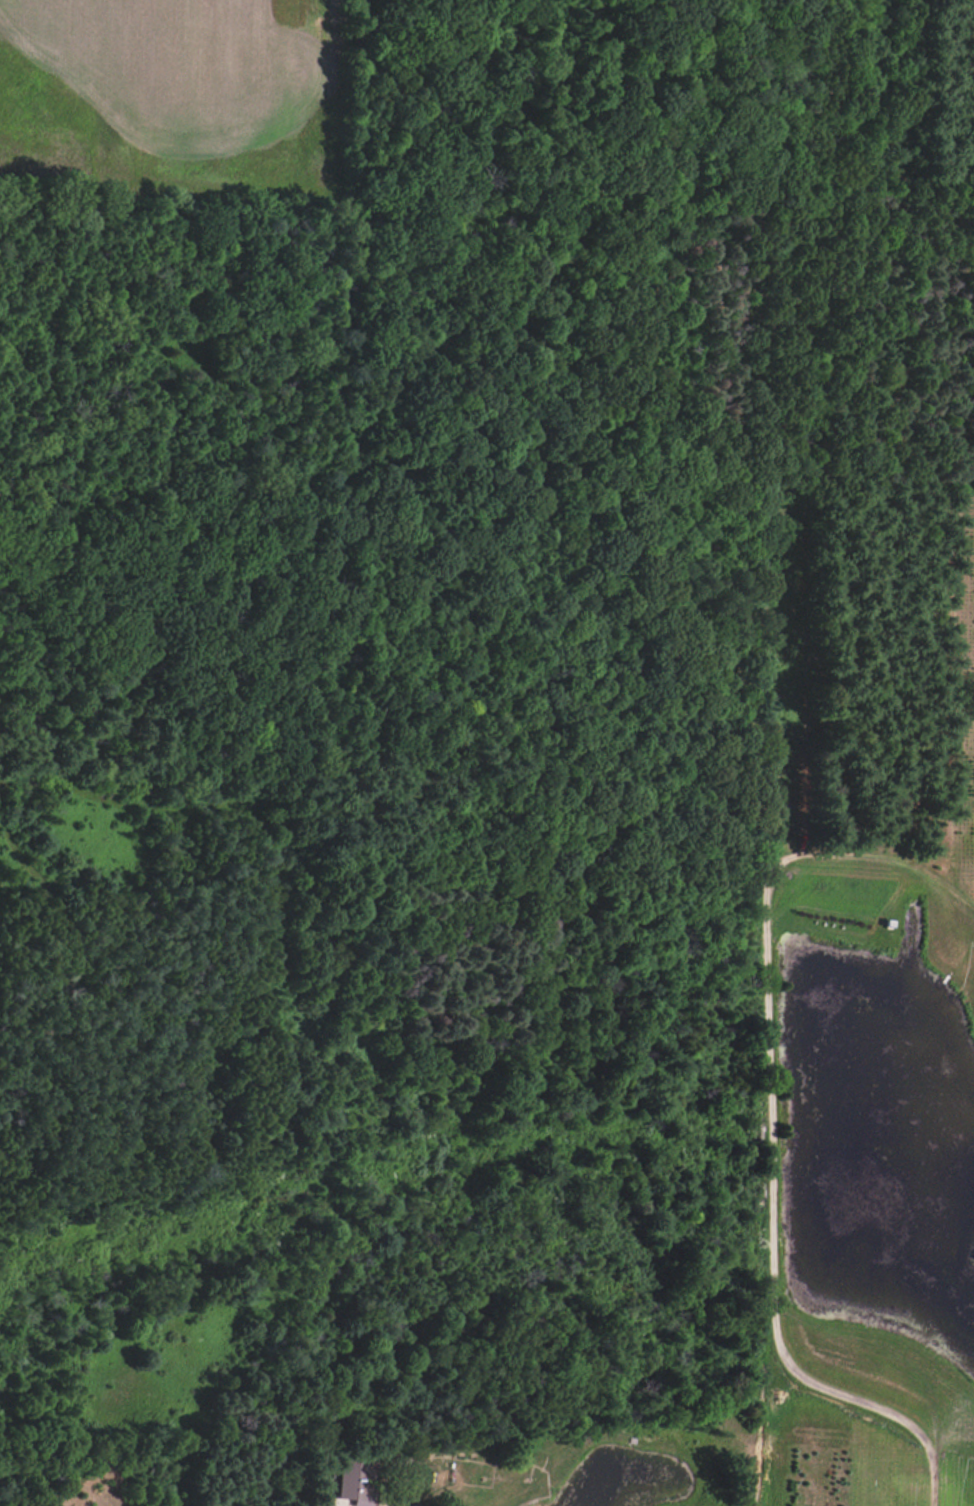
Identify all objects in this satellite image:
road: (769, 1179)
building: (354, 1481)

